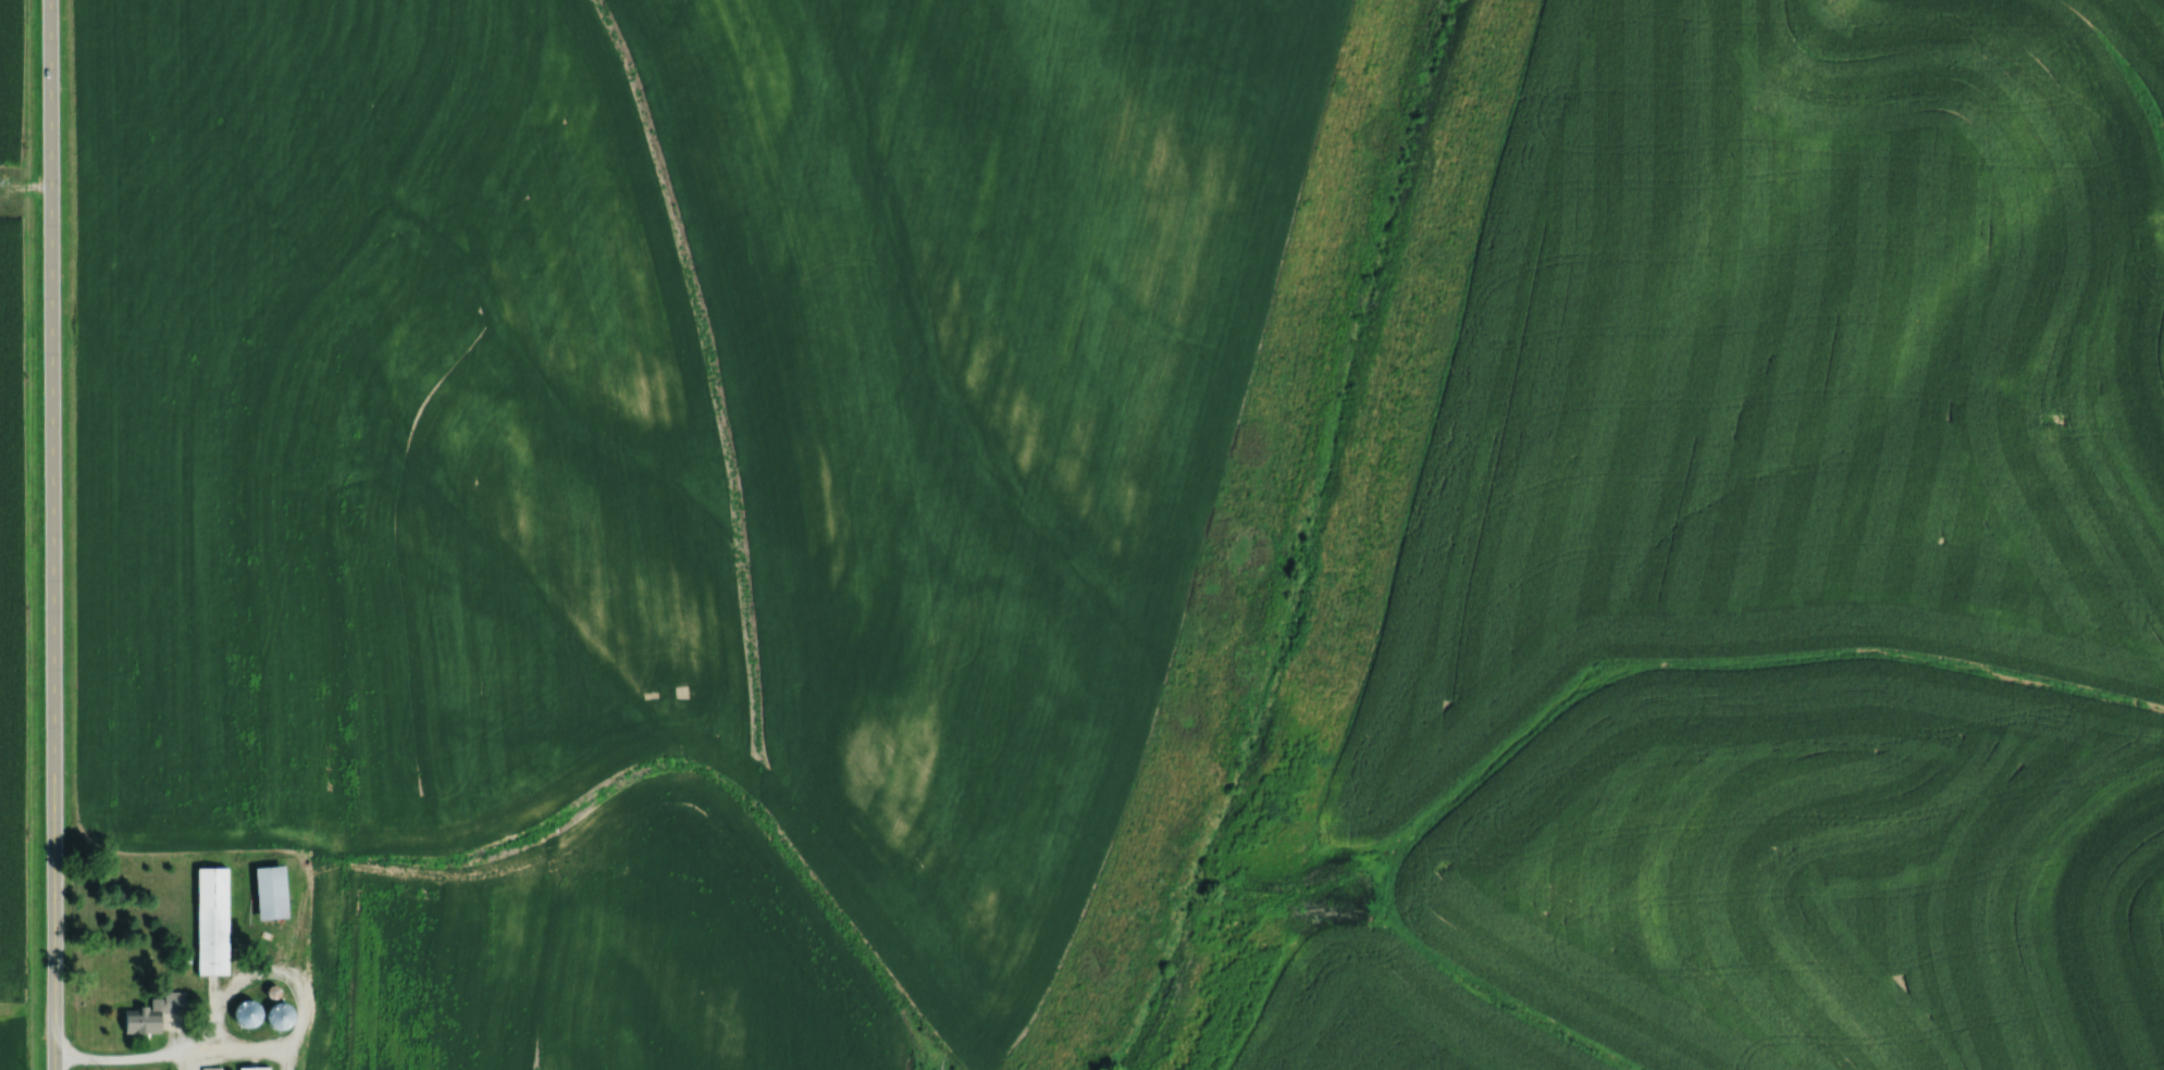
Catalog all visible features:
road: (51, 534)
building: (271, 892)
building: (212, 920)
building: (154, 1012)
building: (250, 1015)
building: (281, 1016)
road: (122, 1054)
building: (255, 1068)

